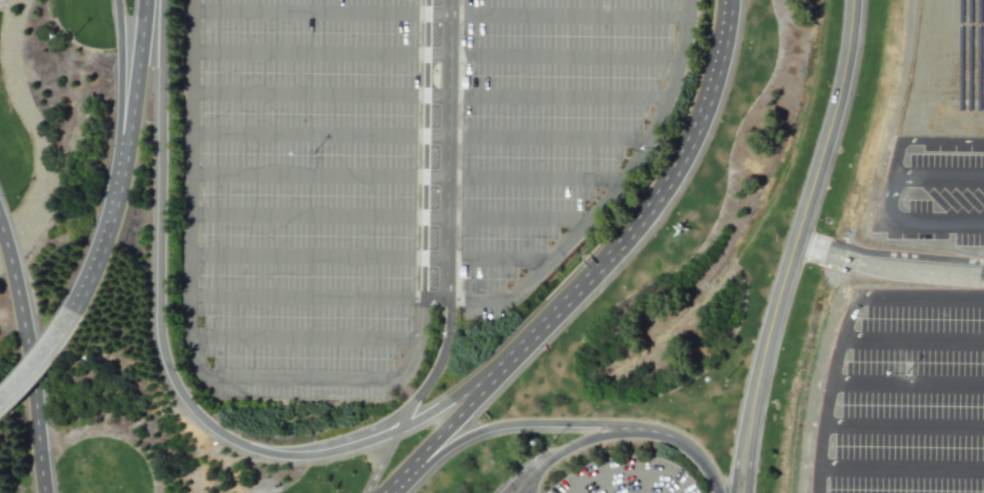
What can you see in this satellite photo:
road: (441, 15)
road: (437, 56)
road: (121, 77)
road: (135, 77)
road: (430, 96)
road: (900, 115)
road: (419, 136)
road: (423, 144)
road: (937, 146)
road: (428, 148)
road: (452, 149)
parking lot: (400, 172)
road: (409, 177)
road: (932, 180)
road: (614, 193)
parking lot: (920, 213)
road: (646, 214)
road: (389, 217)
road: (924, 227)
road: (106, 236)
airport: (492, 246)
road: (794, 246)
road: (370, 257)
toll booth: (843, 259)
road: (887, 271)
road: (308, 297)
road: (160, 305)
road: (911, 312)
road: (834, 333)
road: (305, 339)
road: (192, 343)
road: (906, 354)
road: (25, 360)
road: (40, 362)
road: (429, 381)
road: (901, 394)
road: (428, 415)
road: (507, 427)
road: (447, 428)
parking lot: (893, 434)
road: (897, 434)
road: (809, 442)
road: (681, 443)
road: (390, 447)
road: (561, 451)
road: (626, 470)
road: (894, 479)
road: (393, 482)

